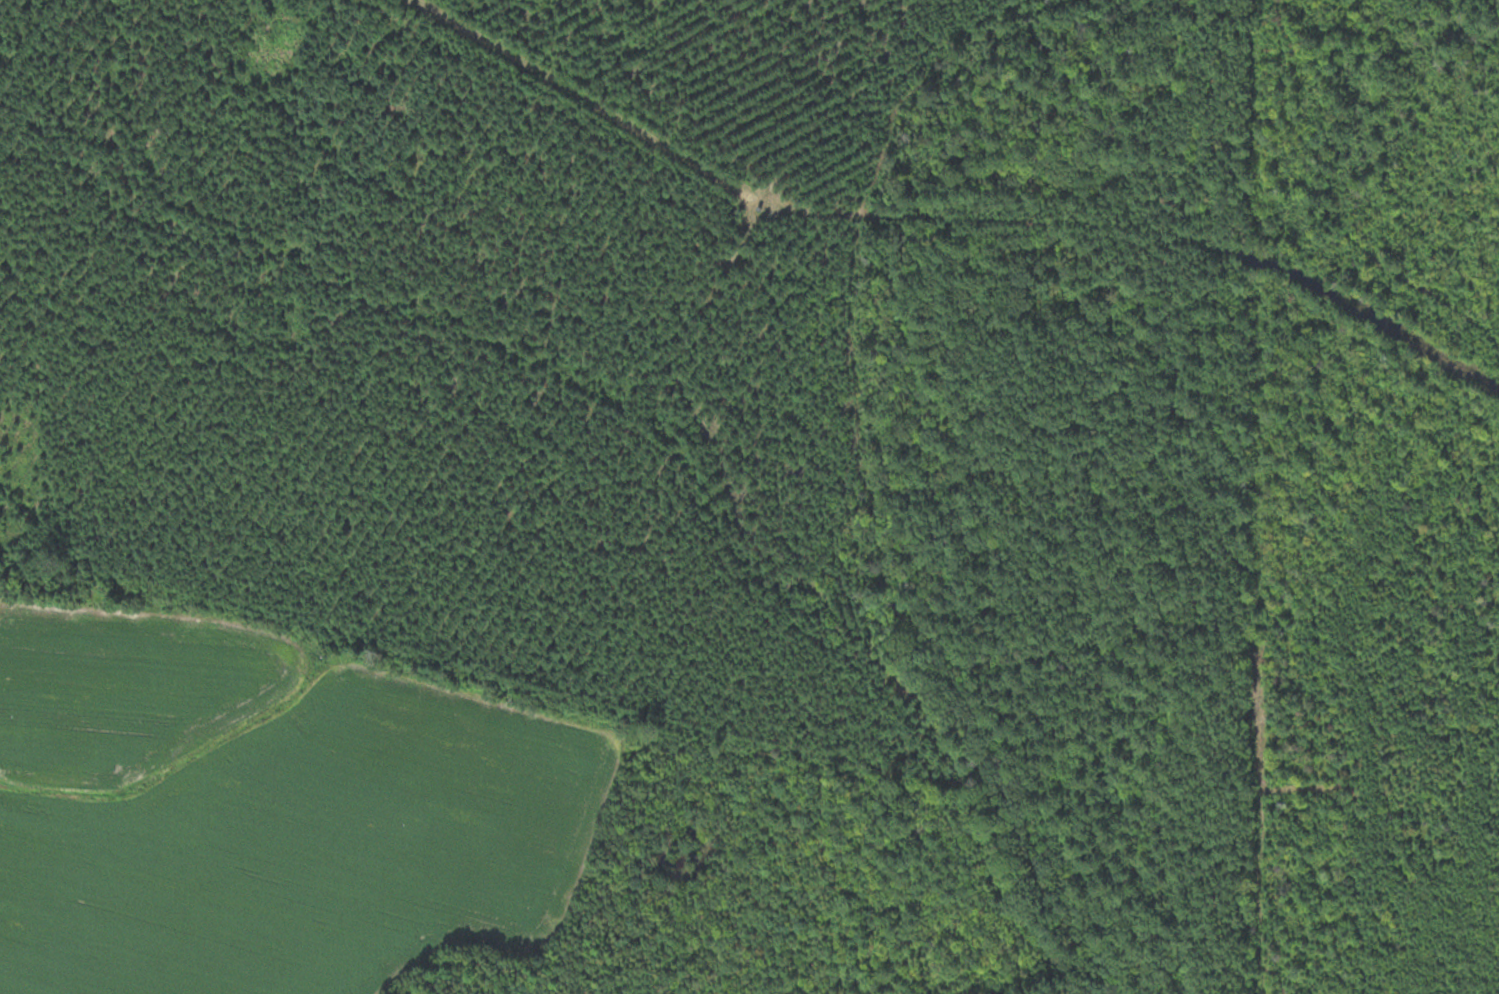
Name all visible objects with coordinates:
road: (587, 101)

